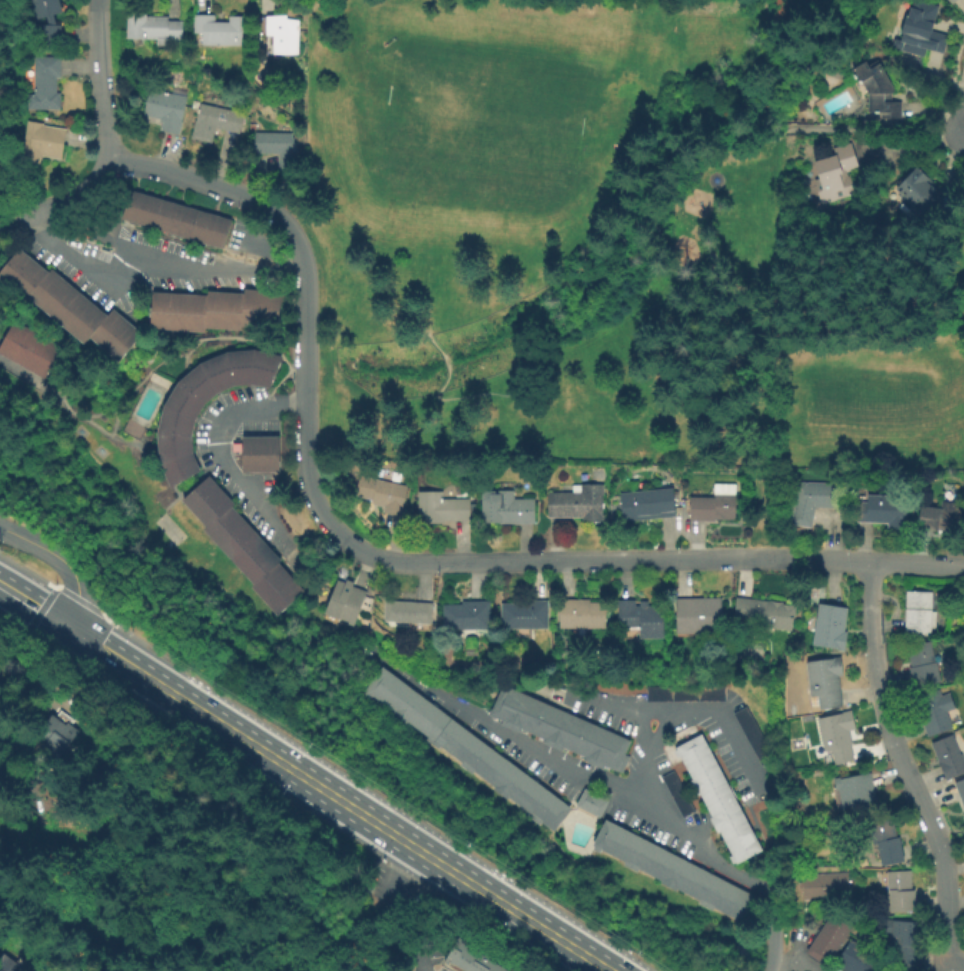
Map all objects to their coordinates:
building: (950, 2)
building: (46, 8)
road: (719, 18)
building: (153, 27)
building: (223, 29)
building: (918, 31)
building: (281, 32)
building: (48, 33)
road: (716, 71)
road: (99, 79)
building: (43, 81)
road: (745, 84)
building: (876, 92)
building: (163, 111)
park: (484, 114)
road: (935, 114)
road: (755, 115)
road: (771, 122)
building: (213, 123)
road: (875, 130)
building: (38, 145)
road: (914, 149)
building: (277, 150)
road: (954, 150)
building: (833, 175)
road: (217, 188)
building: (918, 193)
road: (62, 204)
building: (173, 217)
park: (602, 251)
road: (250, 253)
road: (542, 254)
road: (148, 260)
parking lot: (151, 263)
road: (233, 266)
road: (778, 289)
building: (67, 306)
building: (214, 309)
road: (197, 340)
building: (26, 347)
road: (18, 374)
road: (44, 393)
road: (306, 397)
road: (56, 403)
building: (175, 425)
road: (134, 444)
road: (219, 450)
building: (258, 453)
parking lot: (243, 478)
road: (261, 493)
building: (380, 494)
building: (811, 502)
building: (575, 504)
building: (645, 506)
building: (712, 506)
building: (439, 509)
building: (504, 509)
building: (880, 512)
building: (939, 520)
park: (167, 527)
building: (240, 544)
road: (829, 559)
road: (643, 560)
road: (63, 562)
road: (28, 571)
road: (78, 599)
building: (343, 602)
road: (32, 605)
road: (40, 609)
building: (405, 612)
building: (523, 614)
building: (578, 614)
building: (463, 615)
building: (917, 615)
building: (763, 616)
building: (696, 617)
building: (639, 618)
traffic signals: (64, 625)
road: (119, 627)
building: (827, 627)
building: (468, 642)
road: (128, 665)
building: (921, 665)
building: (822, 683)
building: (683, 694)
road: (618, 711)
building: (932, 711)
road: (691, 713)
building: (558, 729)
road: (639, 732)
building: (56, 737)
building: (751, 737)
building: (835, 737)
building: (463, 749)
building: (946, 757)
road: (904, 765)
road: (17, 778)
road: (603, 789)
building: (959, 791)
building: (675, 795)
building: (853, 797)
road: (378, 798)
building: (716, 800)
building: (589, 804)
building: (962, 818)
road: (399, 839)
building: (884, 841)
street lamp: (388, 860)
building: (674, 872)
building: (825, 887)
building: (898, 892)
road: (943, 904)
road: (394, 909)
building: (828, 939)
building: (900, 941)
road: (795, 945)
street lamp: (637, 951)
building: (469, 958)
building: (856, 959)
building: (7, 964)
road: (795, 967)
road: (958, 967)
building: (71, 969)

